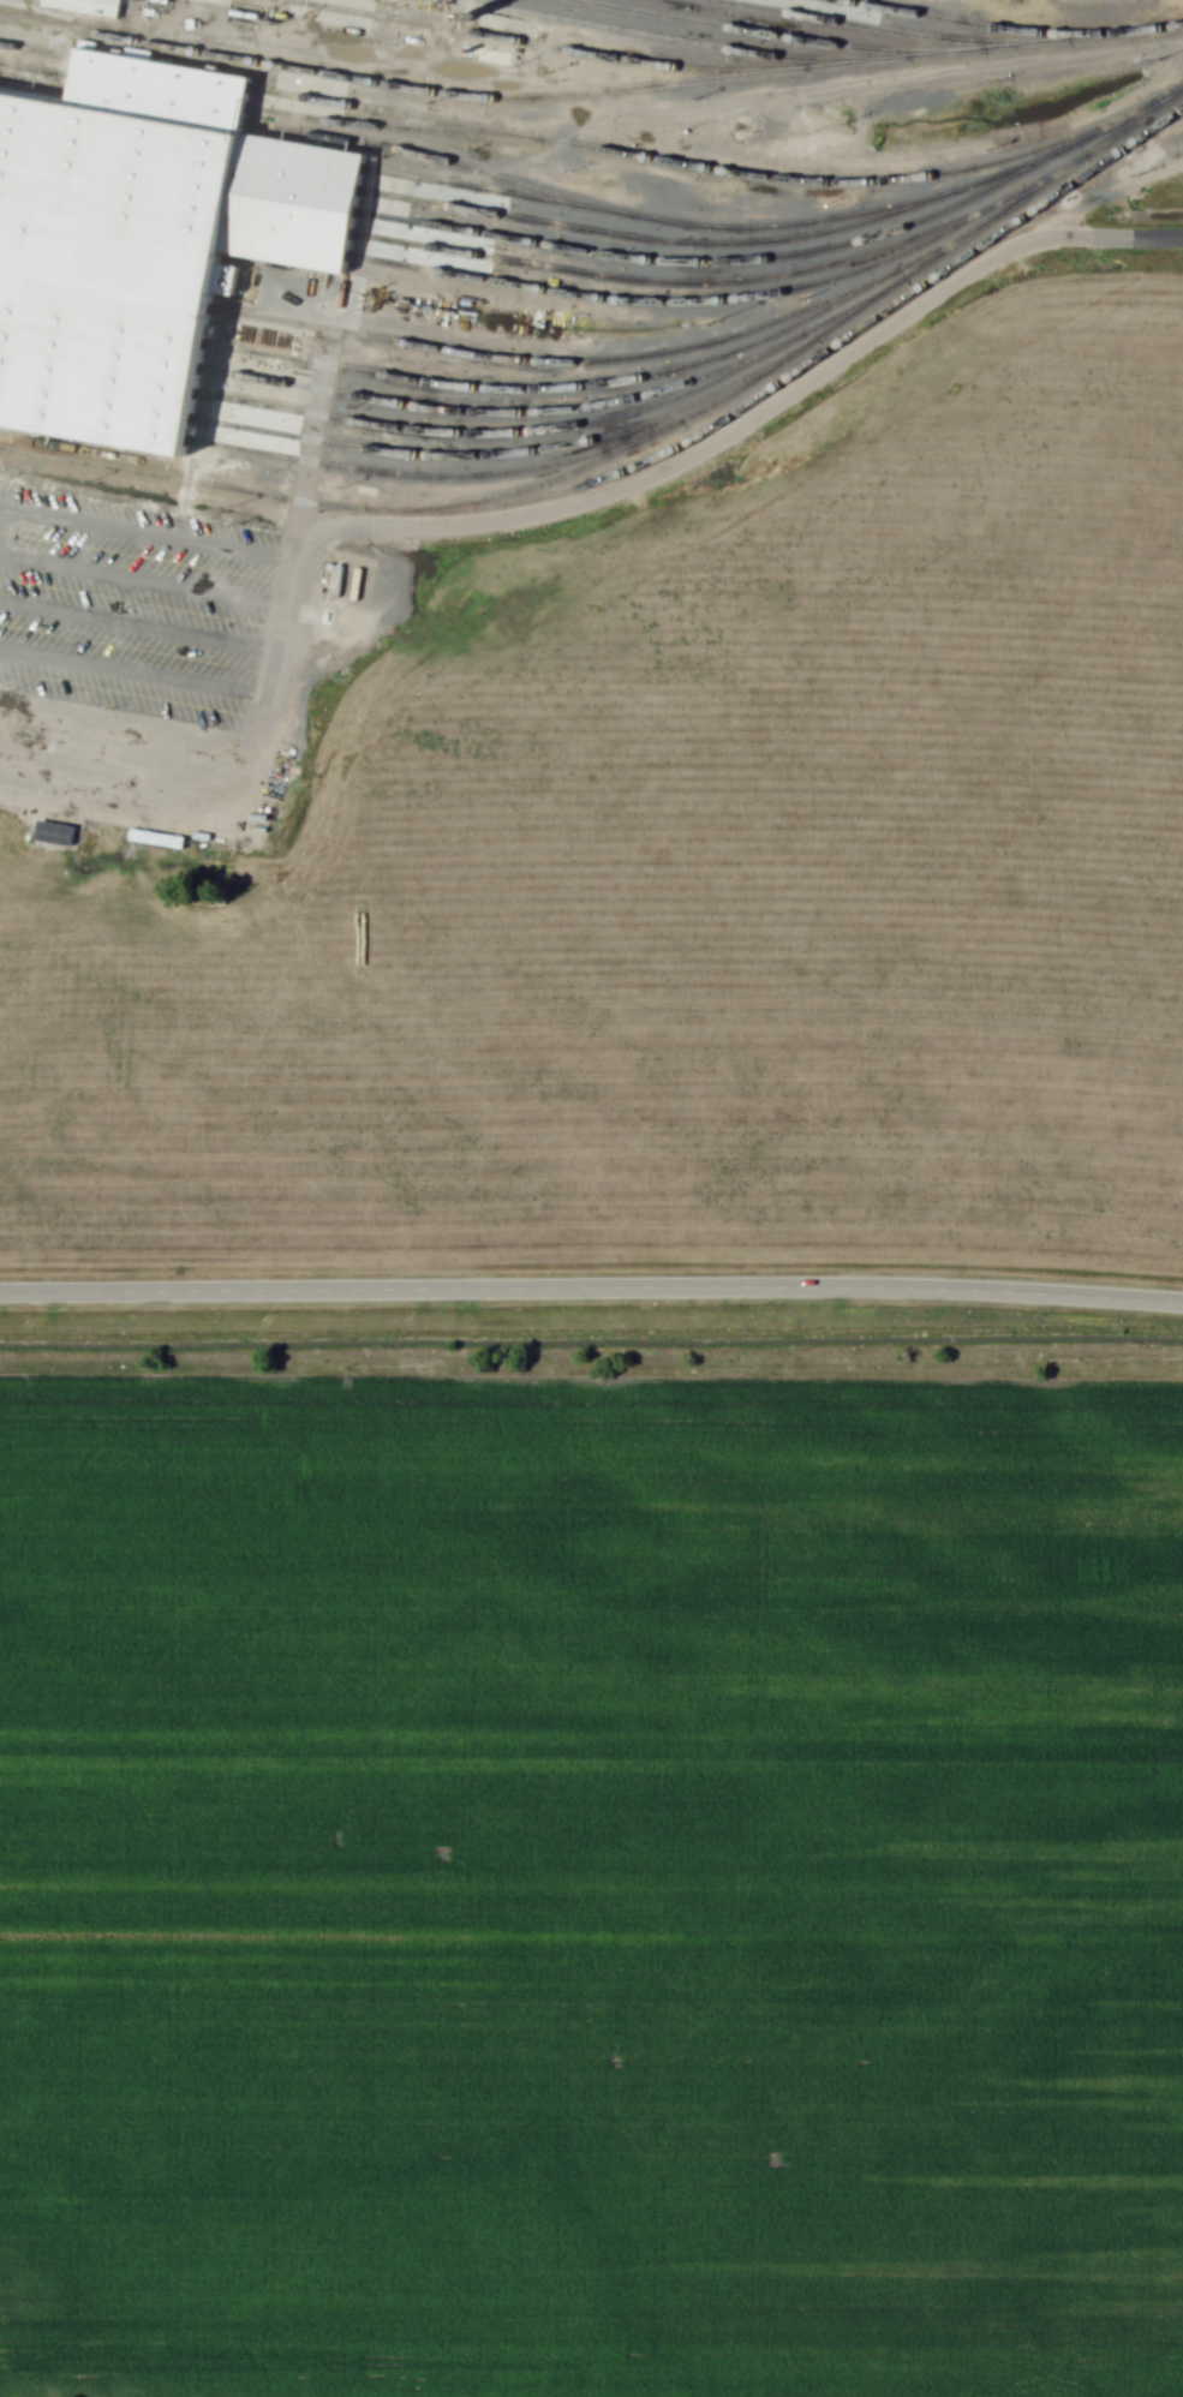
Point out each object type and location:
building: (90, 6)
railway: (861, 25)
railway: (1005, 29)
railway: (758, 34)
railway: (664, 36)
railway: (533, 43)
railway: (38, 52)
railway: (37, 68)
railway: (165, 73)
railway: (36, 84)
railway: (161, 91)
railway: (549, 96)
railway: (159, 106)
railway: (377, 127)
railway: (181, 138)
railway: (412, 151)
railway: (180, 159)
railway: (722, 166)
railway: (178, 180)
road: (1101, 195)
railway: (177, 202)
railway: (174, 225)
railway: (711, 227)
road: (1105, 237)
building: (142, 240)
railway: (674, 240)
railway: (760, 259)
railway: (701, 285)
railway: (106, 291)
railway: (724, 299)
railway: (103, 323)
railway: (823, 335)
railway: (101, 351)
railway: (546, 361)
railway: (98, 376)
railway: (616, 381)
railway: (96, 401)
railway: (483, 412)
railway: (94, 423)
railway: (548, 430)
railway: (494, 454)
railway: (120, 458)
railway: (639, 465)
railway: (416, 476)
road: (437, 526)
road: (139, 537)
building: (339, 581)
road: (143, 585)
road: (139, 635)
parking lot: (137, 660)
road: (135, 687)
road: (129, 742)
building: (54, 832)
road: (591, 1287)
crop: (590, 1885)

